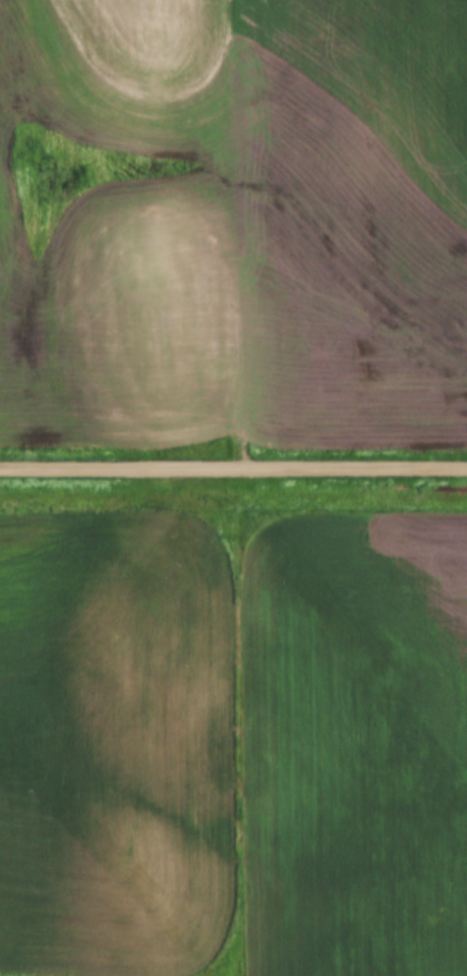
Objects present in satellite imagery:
road: (248, 236)
road: (233, 470)

